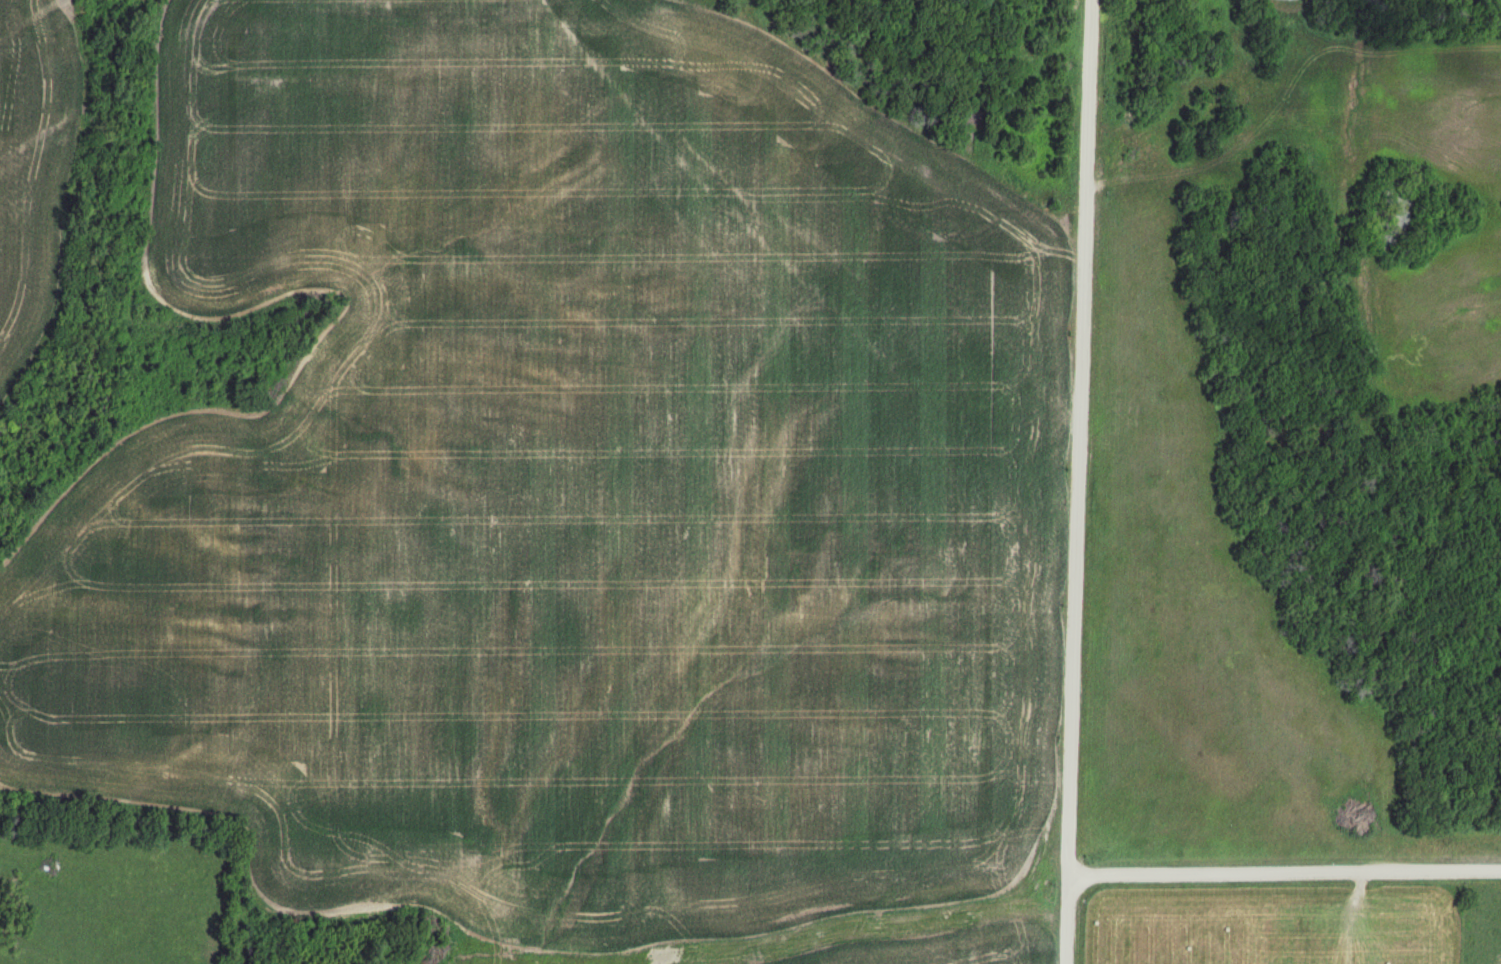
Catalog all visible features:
road: (1079, 482)
road: (1285, 863)

